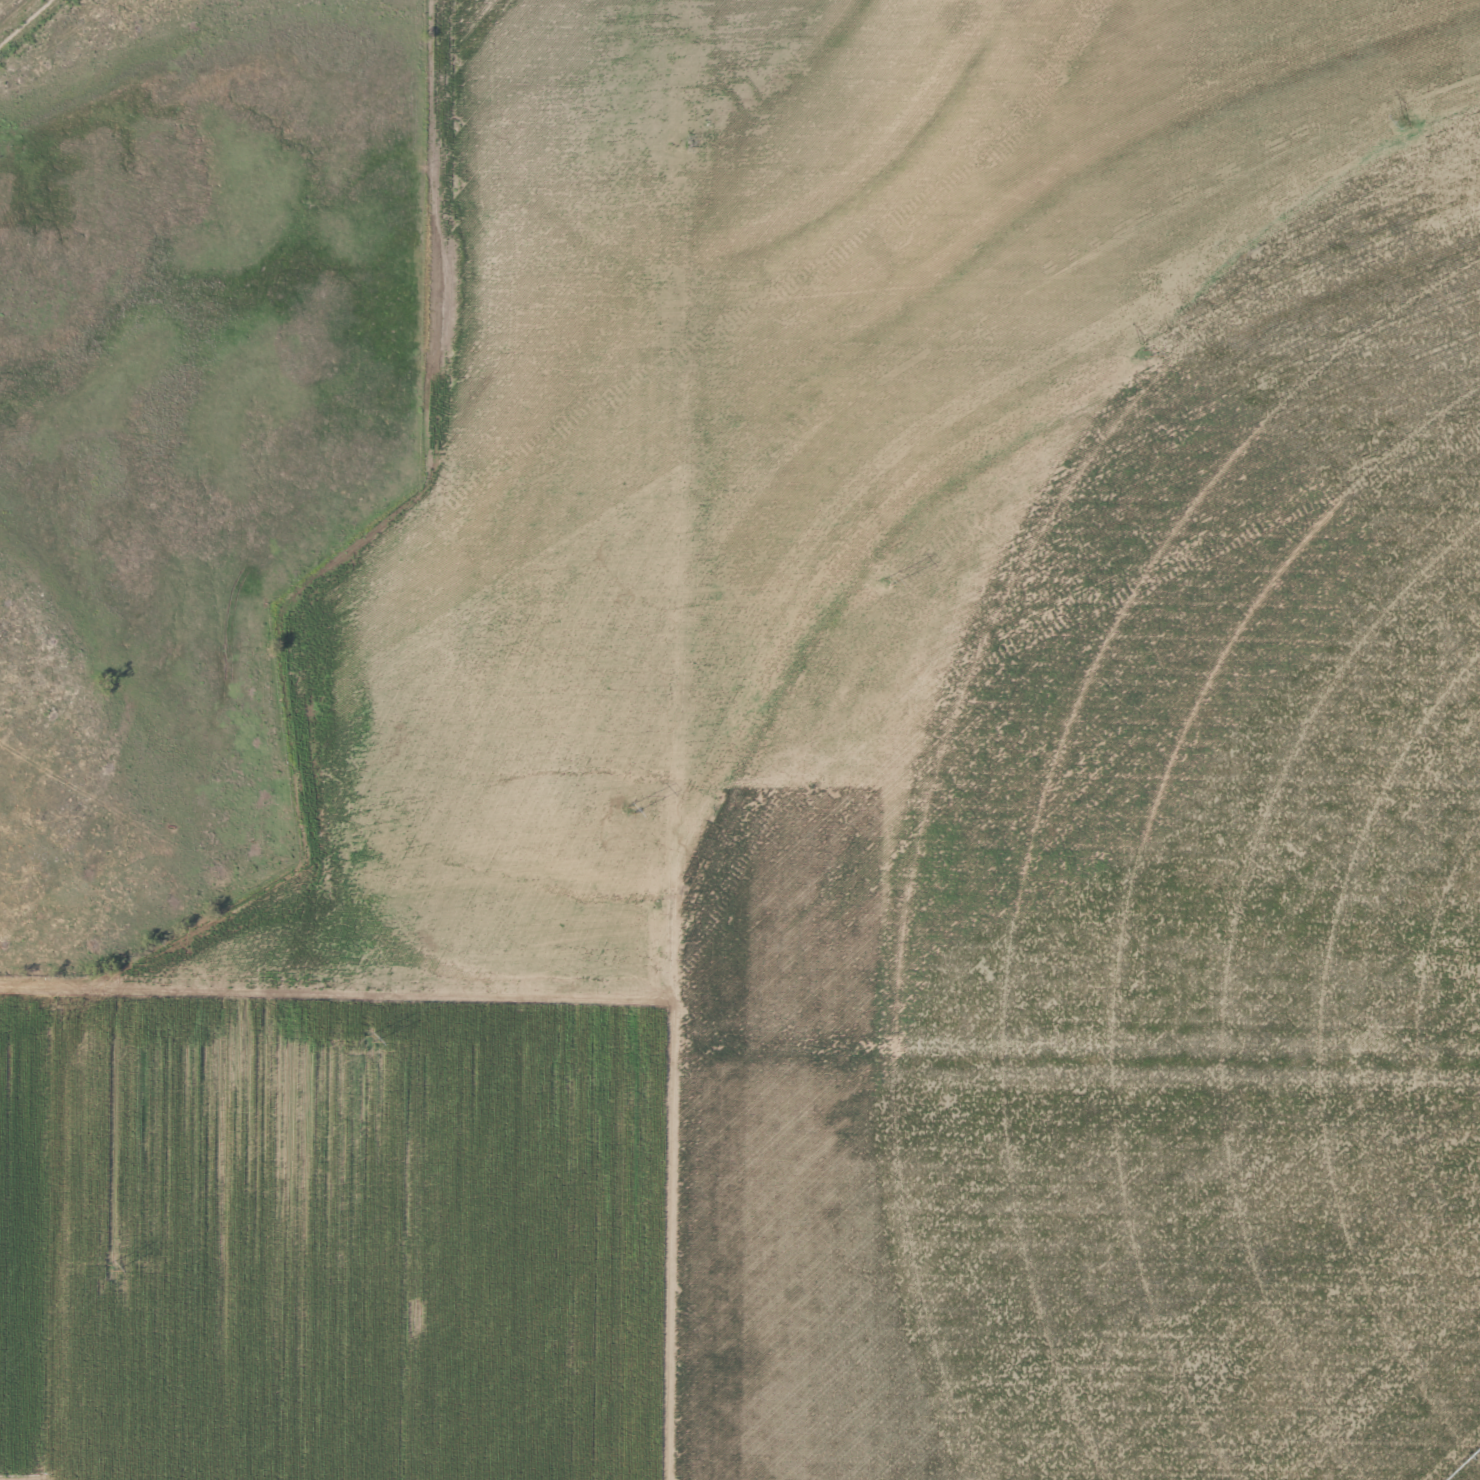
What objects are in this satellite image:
power tower: (1407, 123)
power tower: (1148, 353)
power tower: (884, 583)
power tower: (624, 812)
power tower: (369, 1040)
power tower: (109, 1269)

